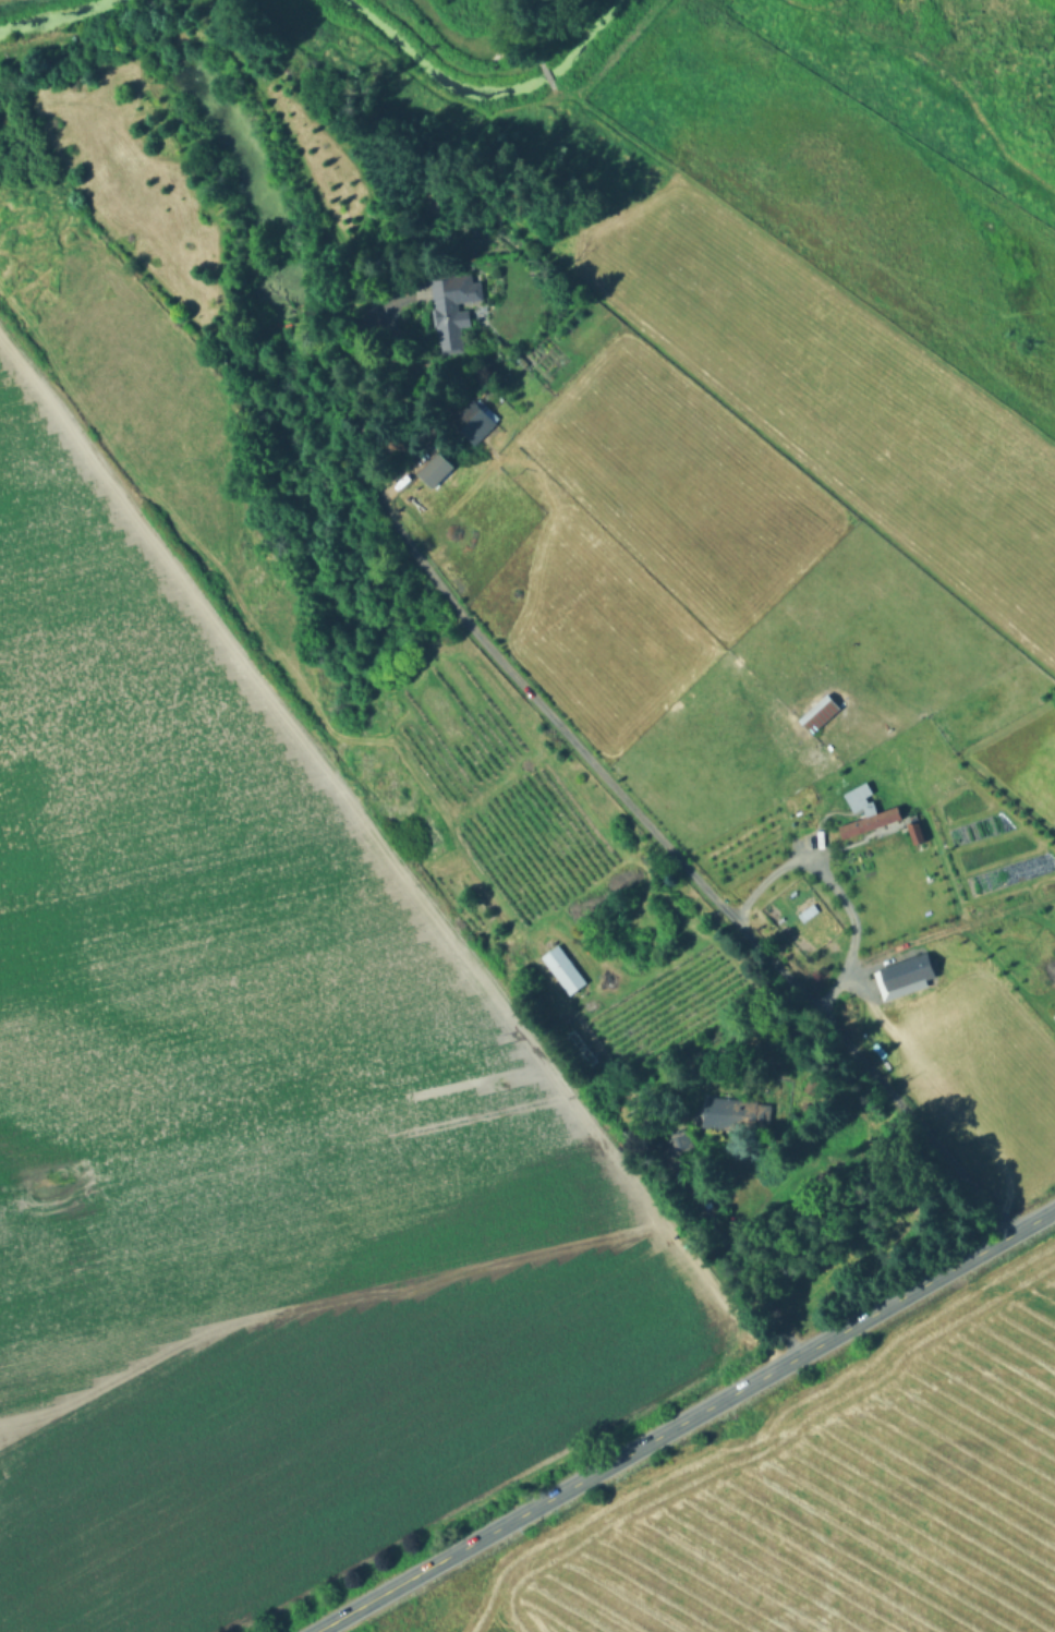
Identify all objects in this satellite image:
building: (449, 311)
building: (475, 418)
building: (813, 708)
road: (609, 784)
building: (883, 814)
road: (837, 895)
building: (565, 967)
crop: (209, 987)
building: (582, 1044)
building: (814, 1081)
building: (735, 1110)
building: (680, 1139)
road: (677, 1177)
road: (751, 1383)
crop: (315, 1435)
road: (381, 1594)

